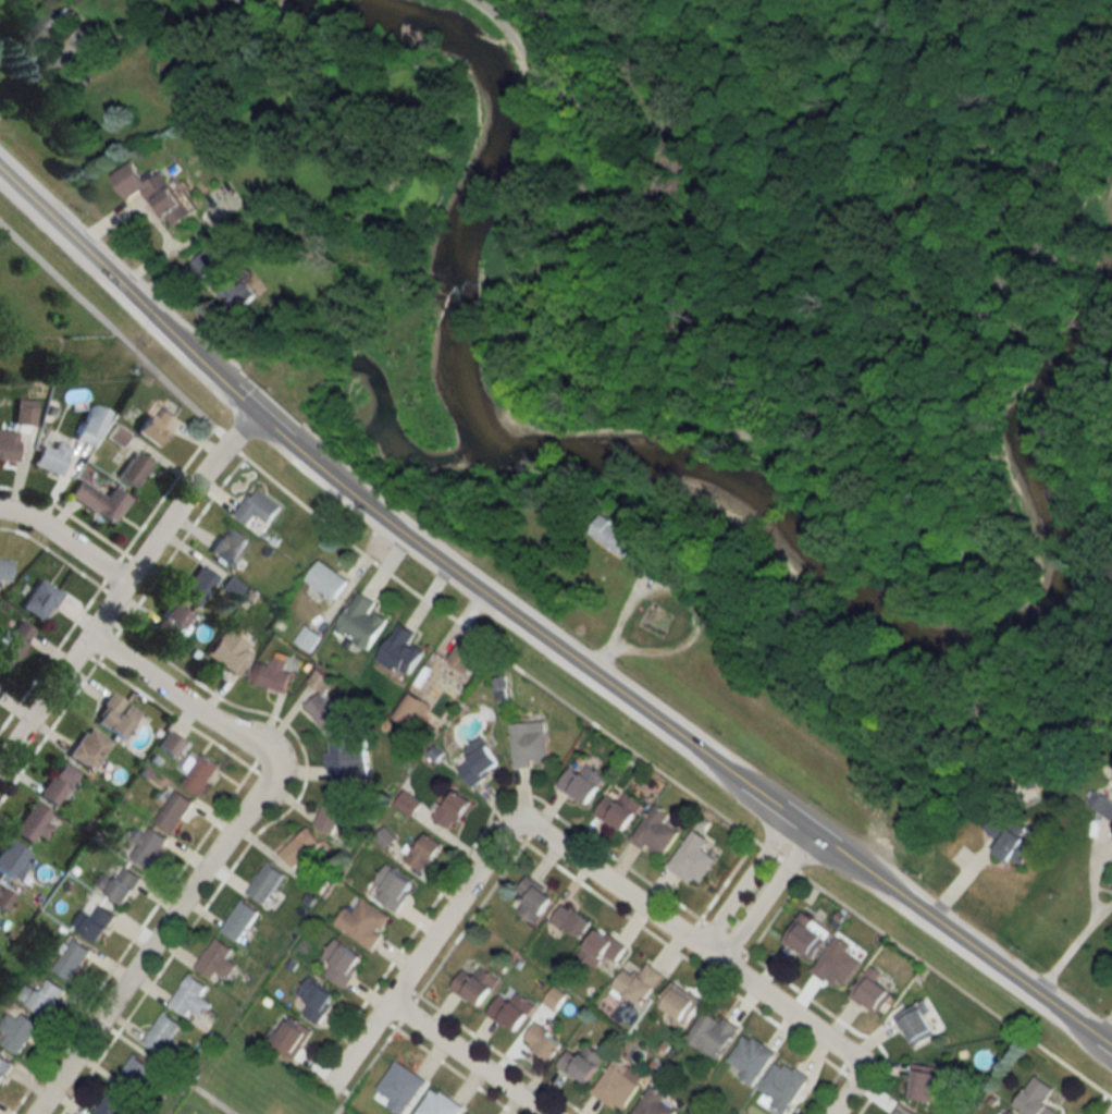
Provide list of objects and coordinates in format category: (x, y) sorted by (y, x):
building: (45, 34)
building: (87, 41)
road: (609, 121)
building: (152, 193)
park: (796, 250)
road: (1040, 257)
building: (205, 262)
building: (231, 289)
road: (110, 326)
building: (89, 424)
building: (155, 424)
road: (732, 431)
building: (114, 434)
road: (228, 440)
building: (7, 444)
building: (50, 452)
river: (676, 461)
building: (133, 468)
road: (171, 490)
building: (99, 500)
building: (258, 507)
road: (66, 512)
building: (615, 536)
road: (66, 540)
building: (228, 544)
road: (52, 552)
road: (956, 556)
road: (134, 558)
building: (4, 570)
road: (113, 570)
building: (326, 579)
building: (197, 585)
road: (123, 587)
road: (109, 591)
road: (672, 591)
building: (39, 599)
building: (361, 621)
building: (172, 624)
road: (535, 635)
building: (15, 642)
road: (111, 645)
building: (401, 650)
building: (230, 651)
road: (493, 652)
road: (89, 656)
building: (467, 657)
road: (50, 661)
building: (273, 675)
building: (412, 710)
building: (116, 714)
road: (174, 715)
road: (279, 719)
road: (49, 734)
building: (529, 744)
building: (89, 747)
building: (346, 758)
building: (479, 761)
building: (197, 772)
building: (59, 783)
building: (582, 783)
building: (1100, 804)
building: (452, 809)
building: (620, 810)
building: (173, 811)
building: (332, 811)
road: (493, 822)
building: (34, 823)
road: (510, 832)
building: (655, 833)
road: (529, 835)
road: (479, 837)
building: (1009, 838)
building: (147, 846)
building: (300, 850)
road: (215, 853)
building: (423, 853)
road: (777, 857)
building: (12, 859)
building: (692, 859)
road: (1092, 872)
road: (604, 879)
road: (727, 879)
building: (264, 882)
building: (120, 884)
building: (393, 887)
road: (752, 890)
building: (4, 899)
building: (534, 901)
road: (1105, 906)
road: (775, 913)
road: (472, 919)
building: (239, 920)
building: (571, 920)
building: (94, 922)
building: (363, 922)
road: (692, 928)
road: (725, 933)
building: (806, 937)
road: (131, 941)
building: (602, 948)
road: (422, 951)
road: (683, 954)
road: (1066, 954)
building: (71, 959)
building: (217, 960)
building: (341, 963)
road: (741, 963)
building: (837, 964)
building: (638, 983)
road: (953, 984)
building: (475, 986)
road: (410, 989)
building: (872, 992)
building: (41, 995)
building: (190, 997)
building: (316, 1000)
building: (679, 1005)
building: (510, 1011)
road: (408, 1012)
road: (790, 1016)
road: (386, 1021)
road: (848, 1023)
building: (916, 1025)
road: (1104, 1029)
building: (16, 1031)
building: (161, 1032)
building: (713, 1035)
building: (289, 1039)
building: (542, 1042)
road: (503, 1054)
road: (459, 1058)
building: (750, 1058)
building: (581, 1064)
road: (844, 1064)
road: (164, 1067)
building: (4, 1068)
road: (365, 1070)
road: (455, 1070)
road: (89, 1074)
building: (132, 1076)
road: (857, 1080)
building: (925, 1082)
building: (617, 1085)
building: (783, 1085)
building: (400, 1087)
road: (826, 1091)
building: (1037, 1098)
building: (438, 1104)
building: (904, 1111)
building: (688, 1113)
building: (1010, 1113)

